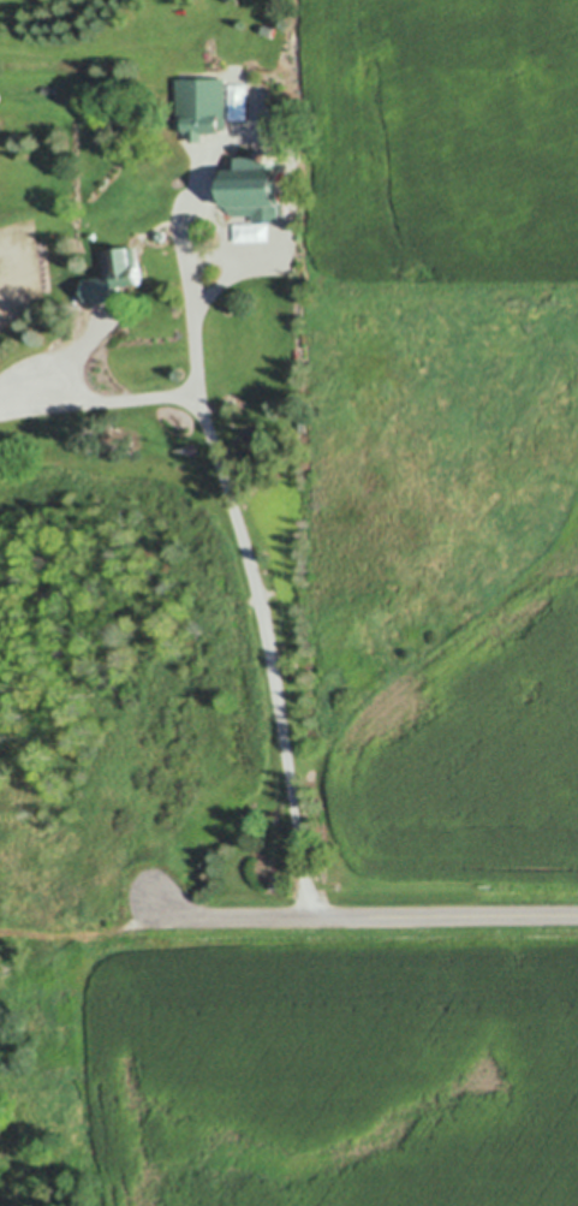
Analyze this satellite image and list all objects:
building: (268, 29)
building: (47, 89)
building: (201, 105)
building: (252, 186)
building: (160, 233)
building: (126, 265)
road: (97, 397)
road: (249, 563)
road: (358, 914)

